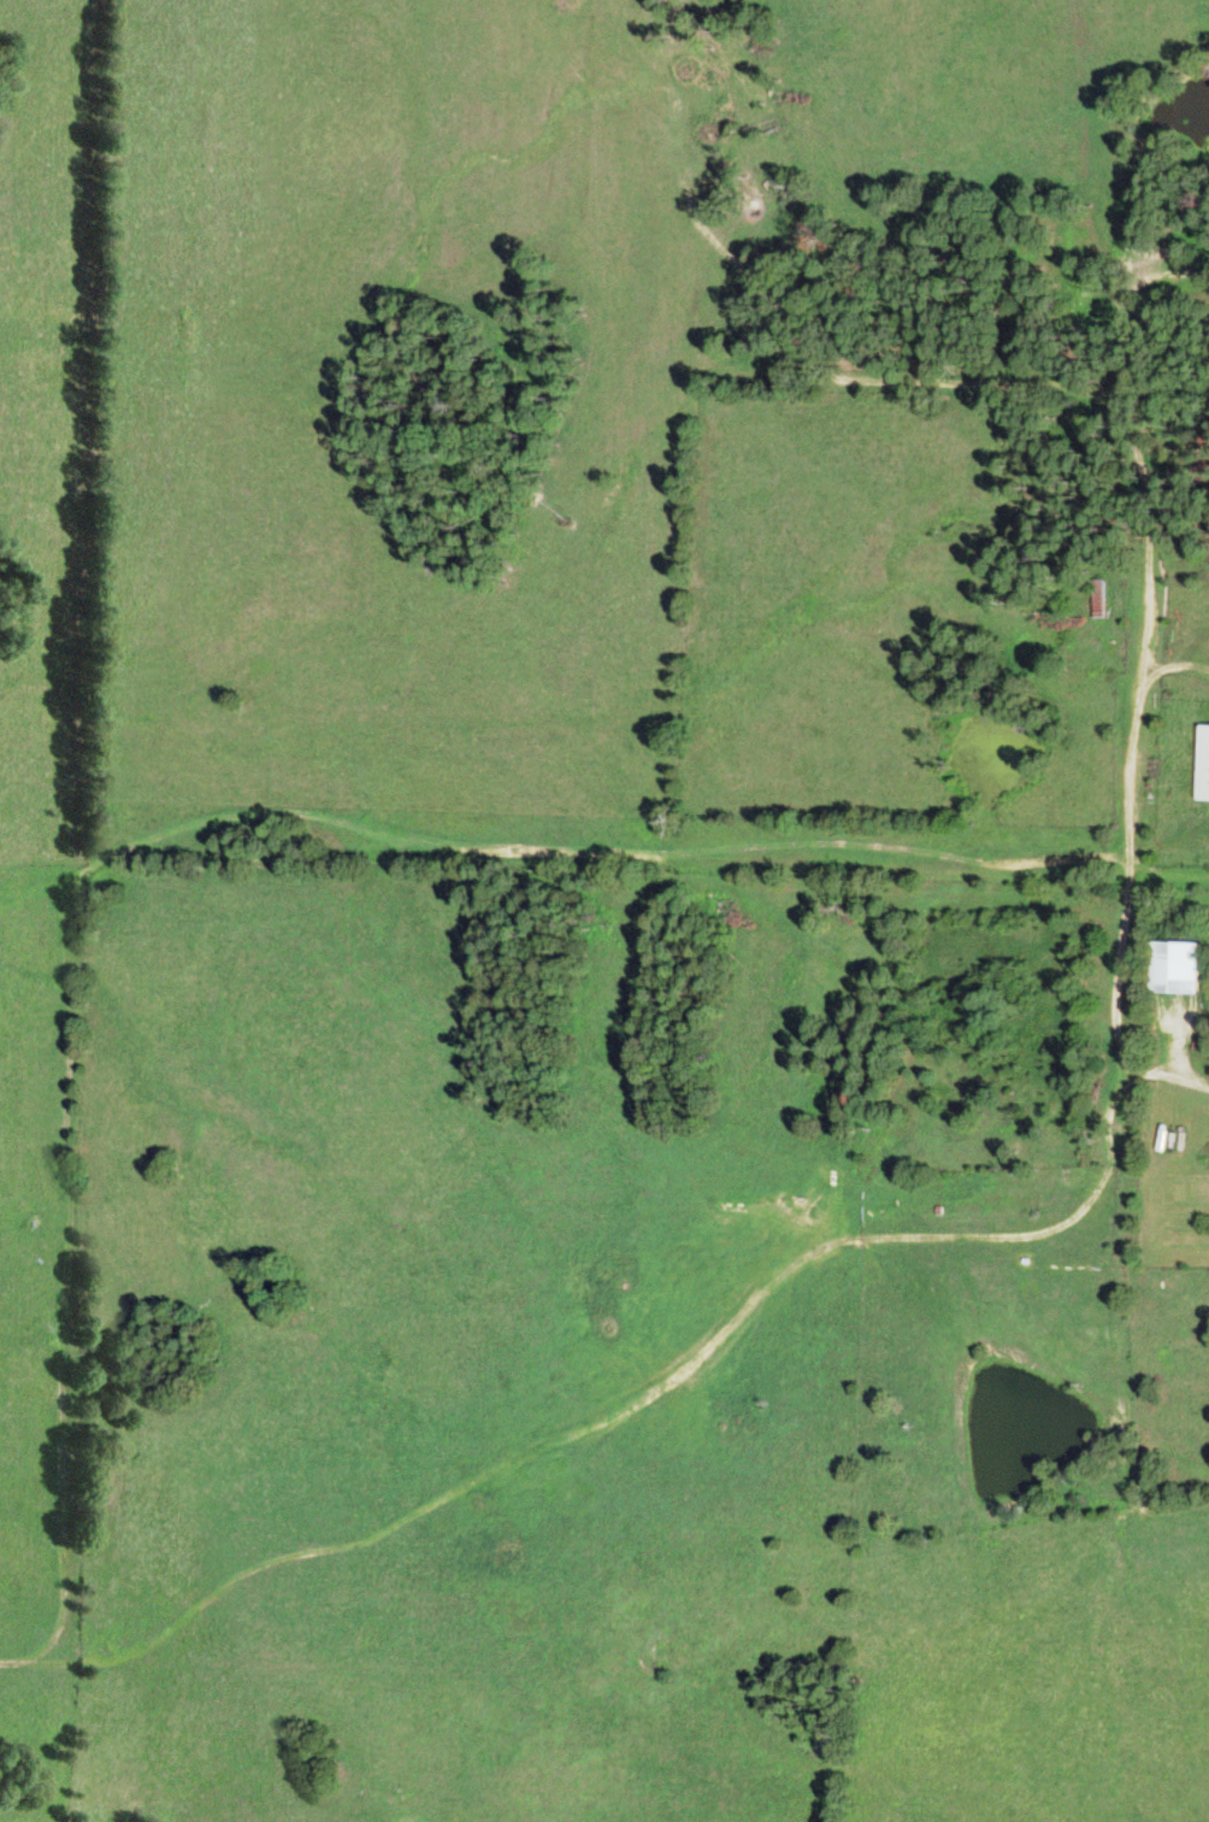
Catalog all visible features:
building: (1187, 969)

